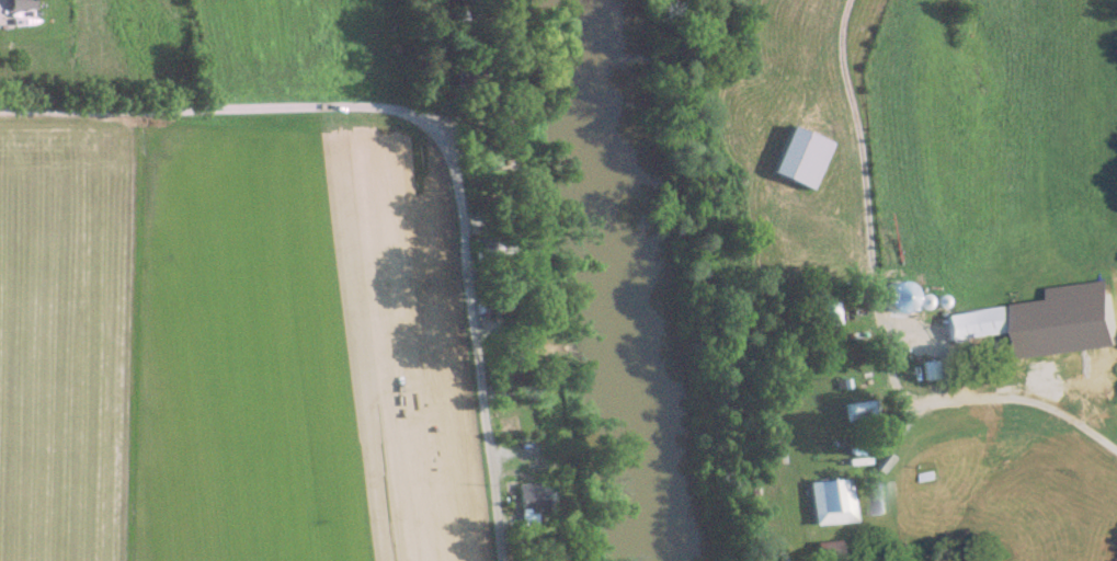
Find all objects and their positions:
building: (15, 3)
building: (459, 19)
road: (216, 112)
building: (478, 156)
building: (796, 157)
road: (470, 277)
road: (870, 277)
river: (620, 280)
building: (821, 314)
building: (976, 323)
road: (935, 344)
building: (923, 369)
road: (1017, 401)
building: (851, 410)
building: (768, 445)
road: (876, 453)
building: (527, 496)
building: (877, 499)
building: (823, 502)
building: (522, 518)
building: (820, 551)

